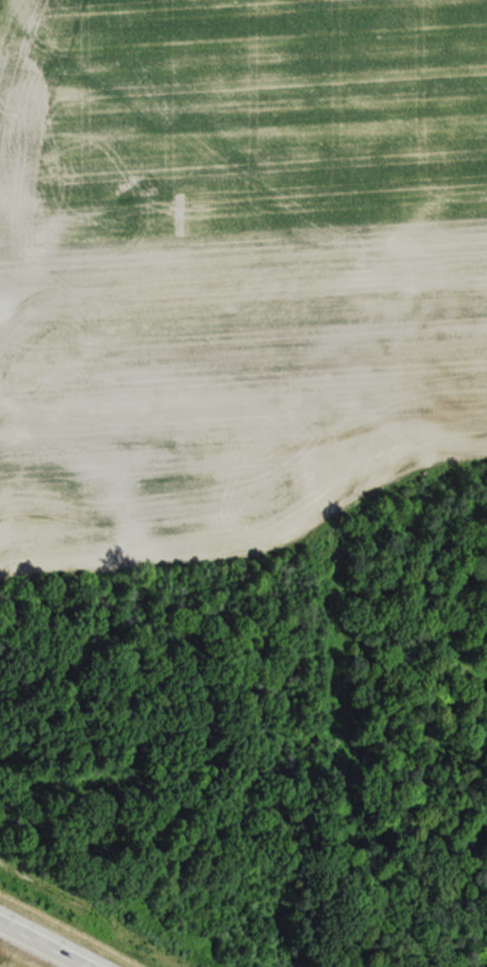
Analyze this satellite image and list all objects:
road: (40, 946)

